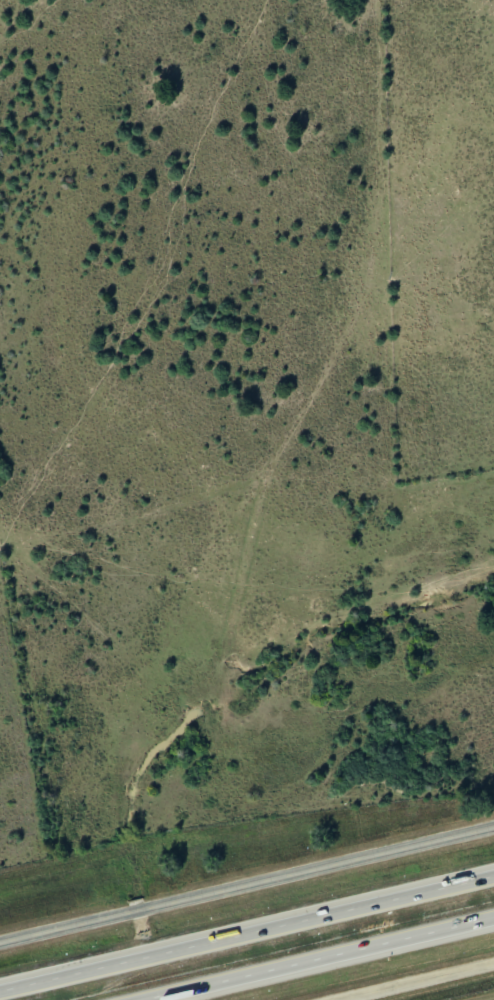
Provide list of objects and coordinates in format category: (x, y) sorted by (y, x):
road: (247, 885)
road: (247, 932)
road: (319, 959)
road: (414, 981)

